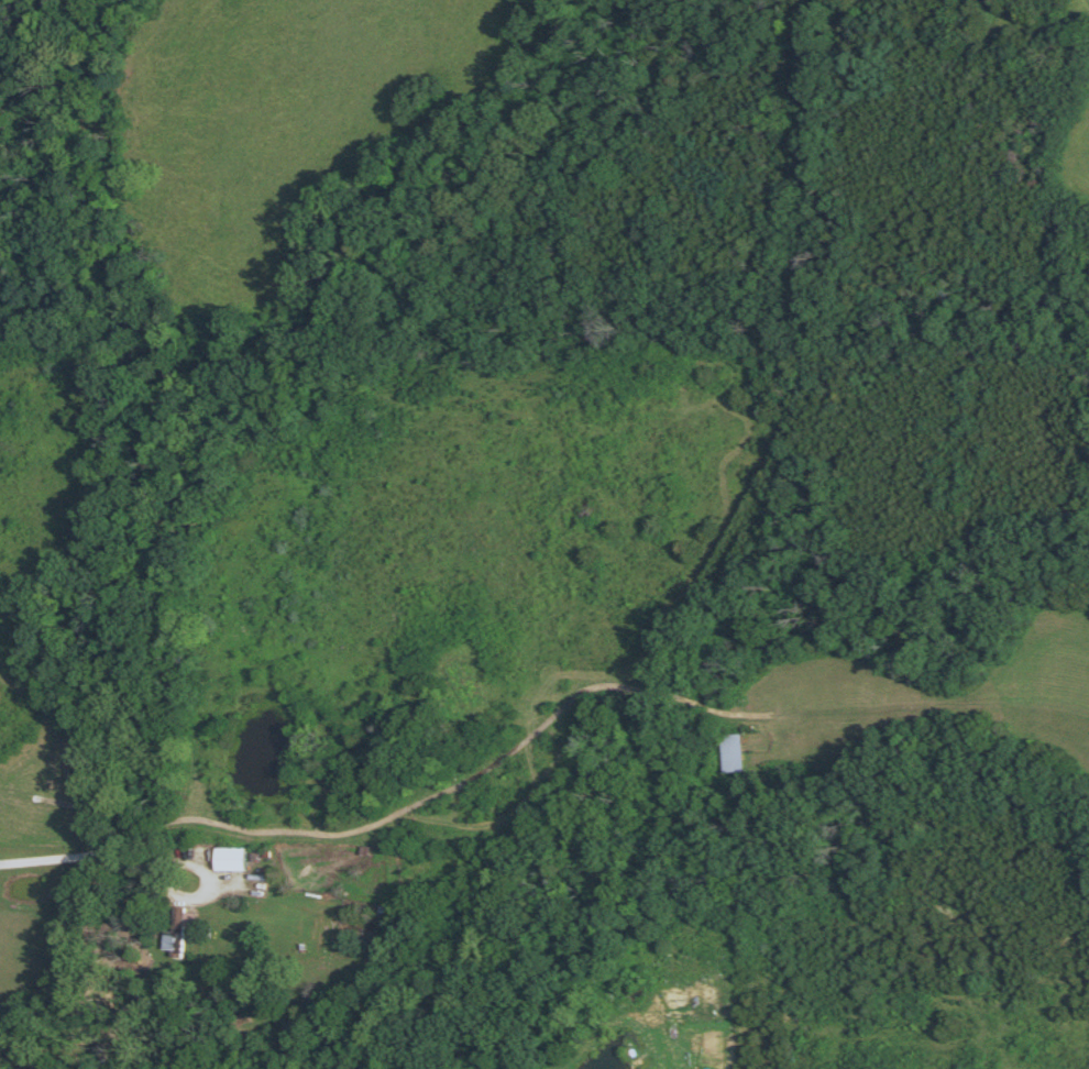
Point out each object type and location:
building: (734, 754)
building: (227, 860)
road: (123, 861)
building: (176, 932)

